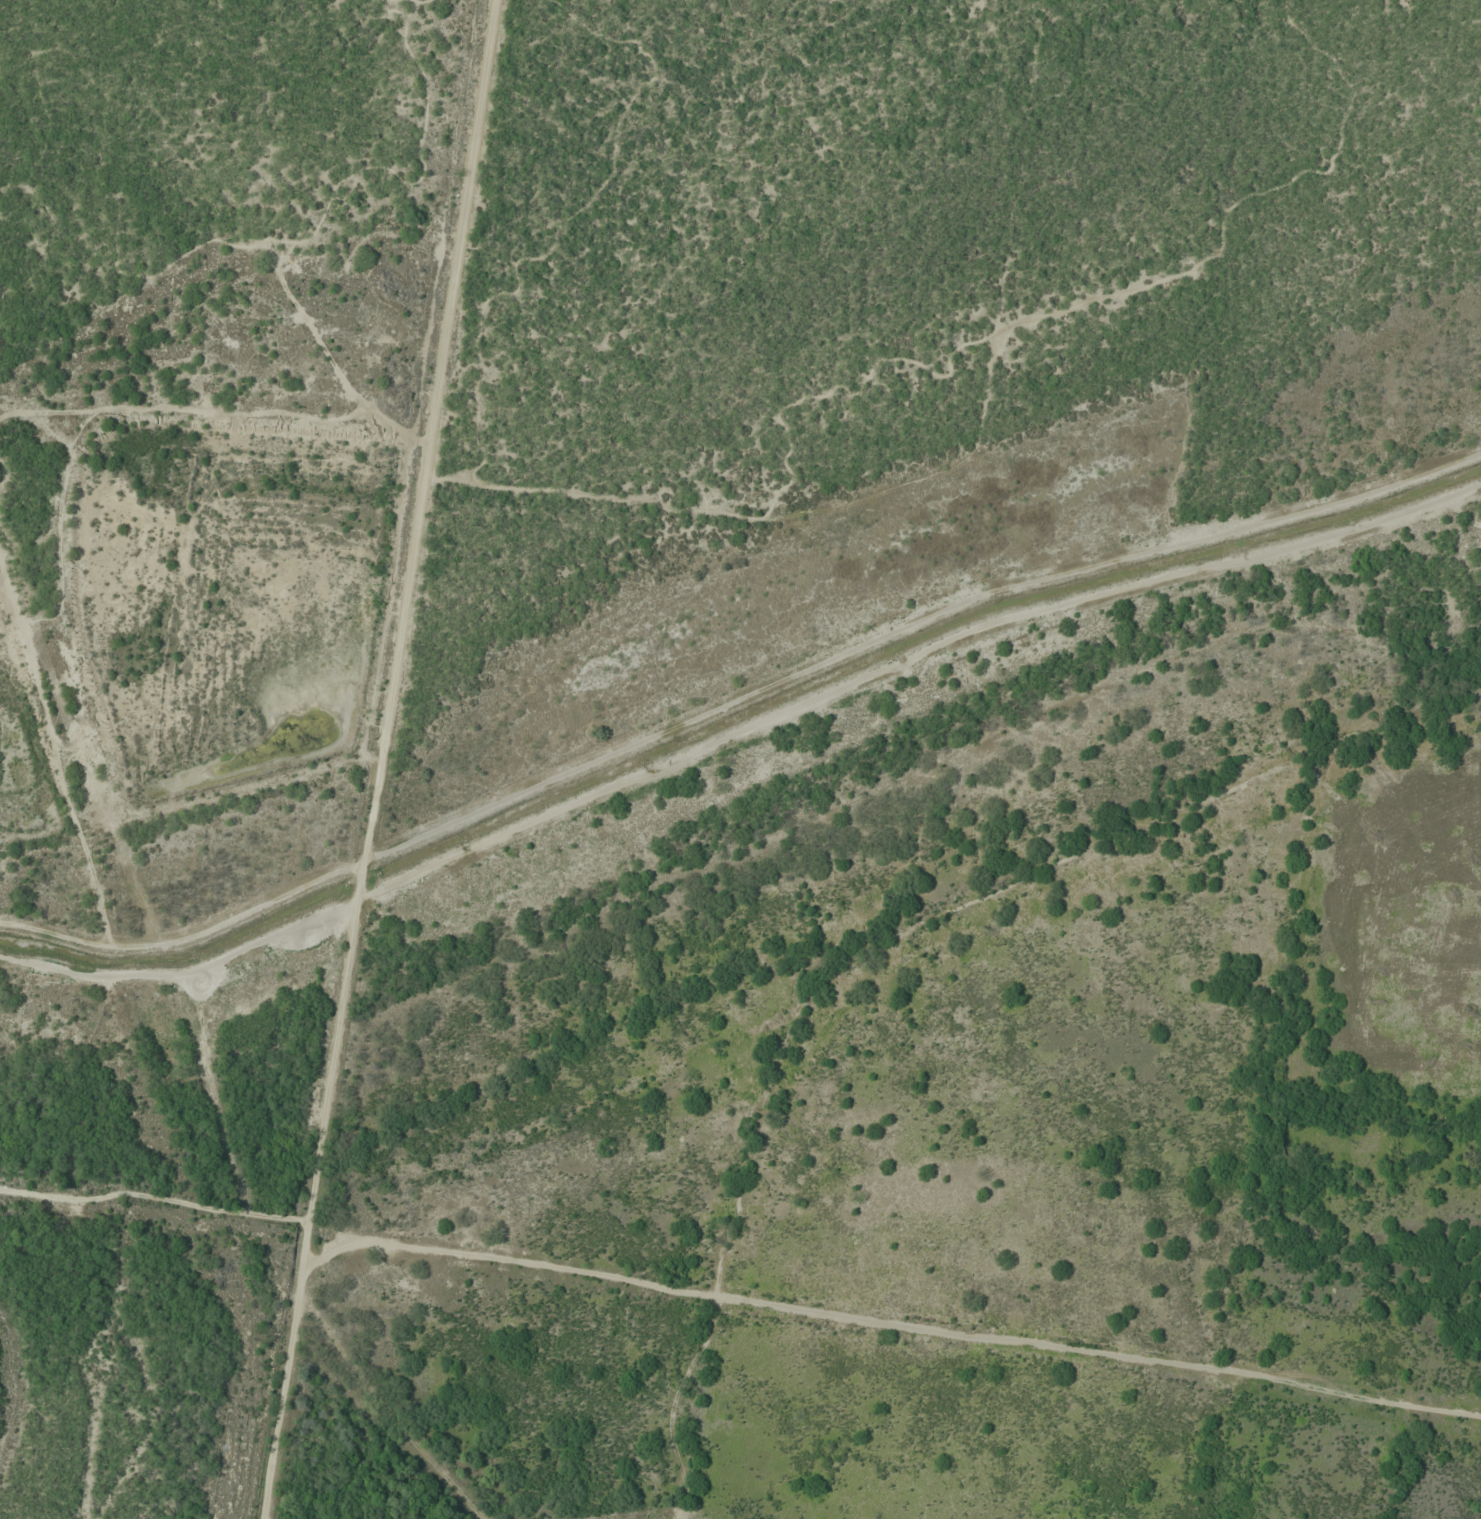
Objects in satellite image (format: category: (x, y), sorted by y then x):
road: (133, 271)
road: (214, 414)
road: (781, 514)
road: (4, 575)
road: (58, 744)
road: (380, 759)
road: (188, 934)
road: (186, 968)

